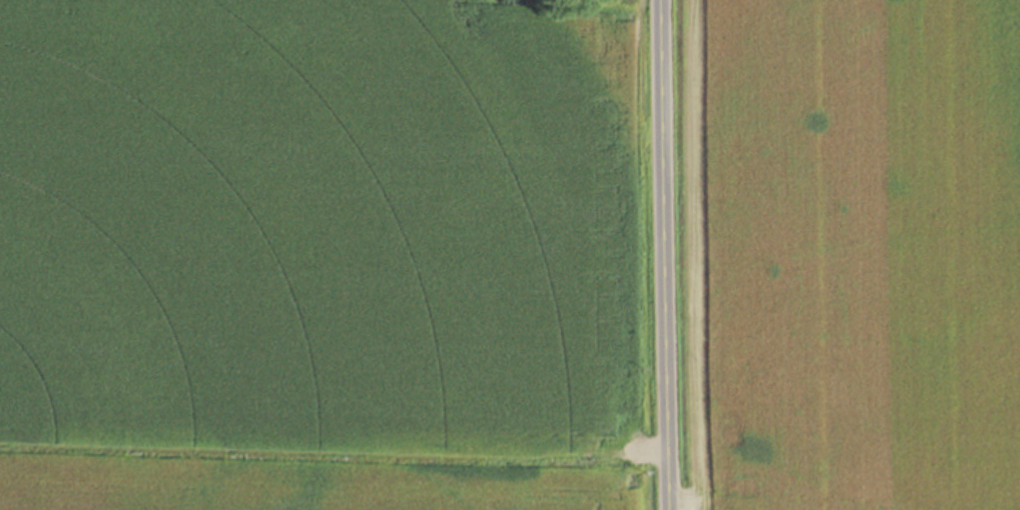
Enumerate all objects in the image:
road: (660, 255)

